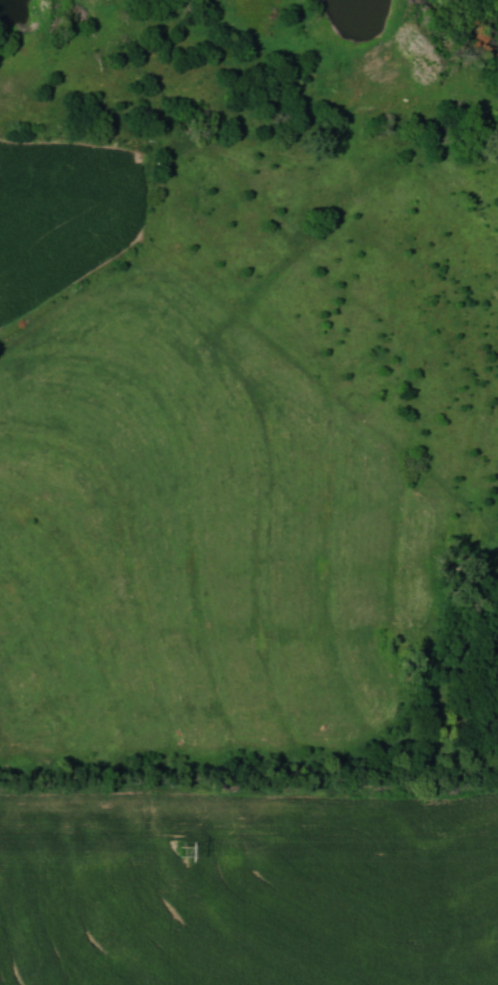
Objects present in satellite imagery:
power tower: (178, 851)

